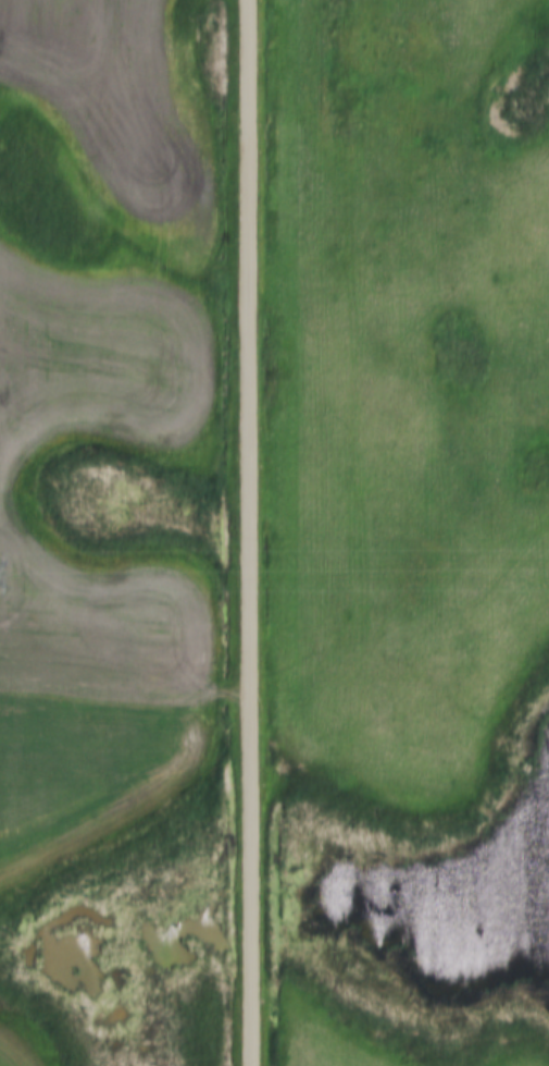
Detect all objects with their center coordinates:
road: (249, 532)

